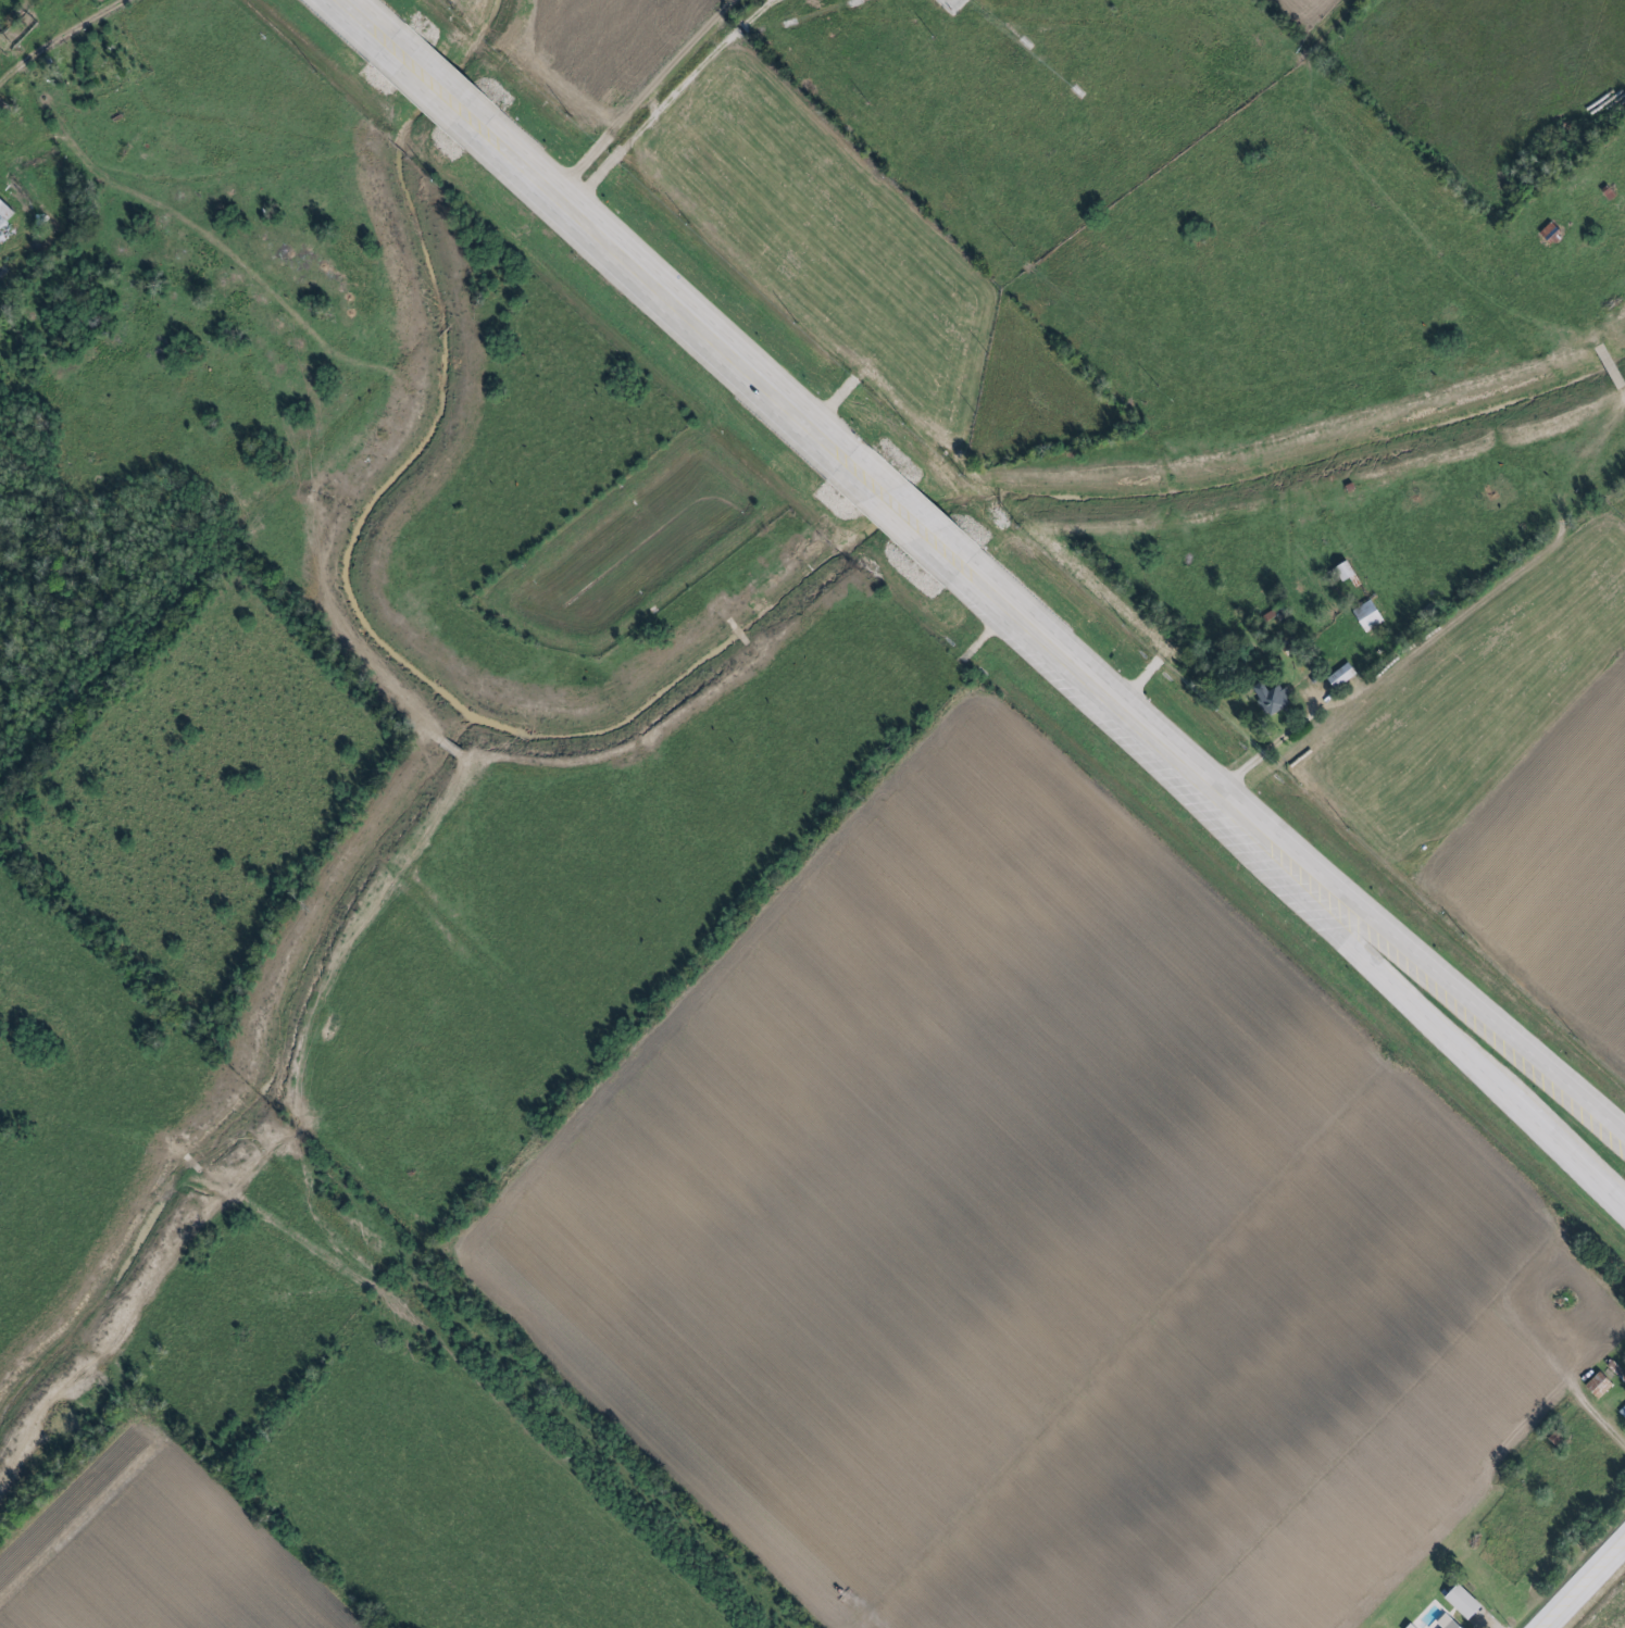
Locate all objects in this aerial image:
road: (59, 39)
road: (787, 401)
building: (1346, 572)
building: (1370, 615)
building: (1342, 676)
building: (1273, 698)
road: (1263, 747)
road: (1427, 962)
road: (1422, 1022)
building: (1600, 1386)
building: (1622, 1412)
road: (1579, 1579)
building: (1461, 1604)
building: (1442, 1624)
building: (1453, 1625)

